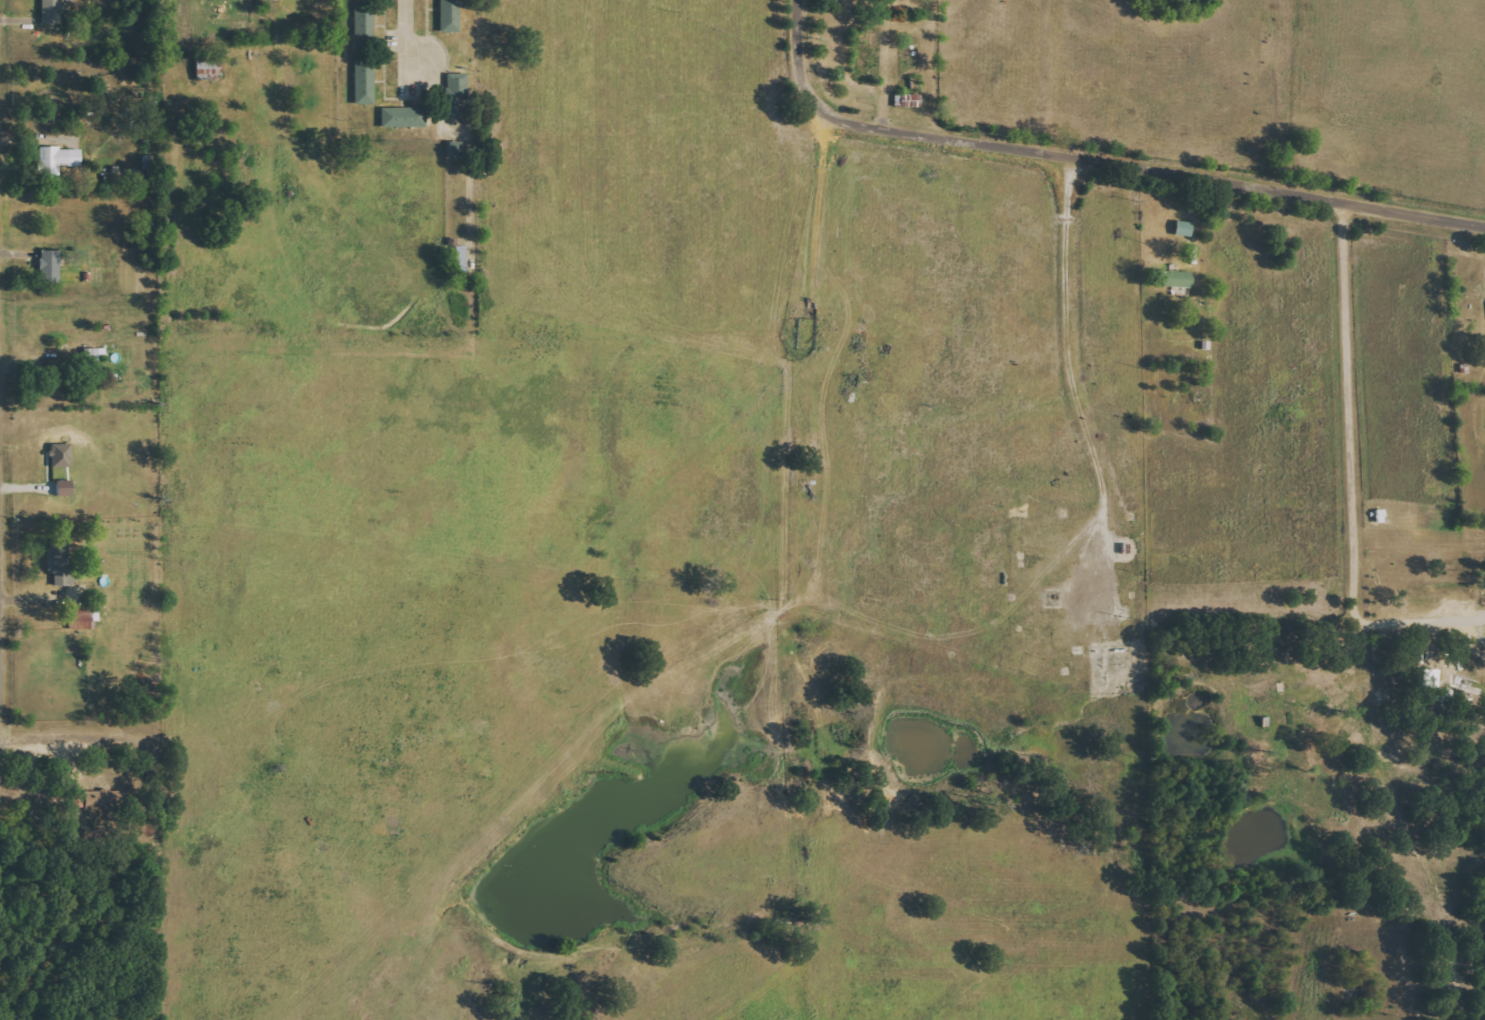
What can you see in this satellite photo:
building: (52, 11)
building: (450, 15)
building: (365, 22)
road: (407, 39)
building: (208, 65)
building: (365, 81)
building: (455, 93)
building: (908, 100)
building: (404, 117)
building: (454, 150)
road: (1094, 158)
building: (58, 161)
road: (806, 210)
building: (50, 266)
building: (1177, 279)
road: (1069, 340)
building: (61, 455)
building: (64, 488)
road: (3, 513)
building: (57, 556)
building: (83, 617)
road: (1352, 618)
road: (1418, 620)
road: (51, 734)
building: (99, 799)
building: (79, 800)

